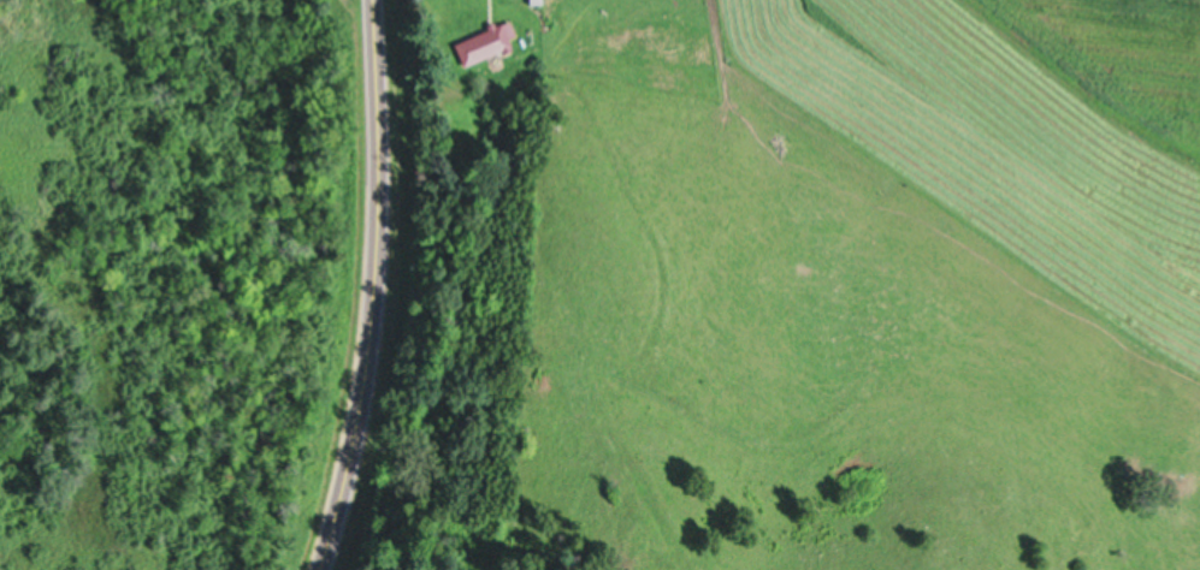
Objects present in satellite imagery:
building: (484, 42)
road: (372, 287)

